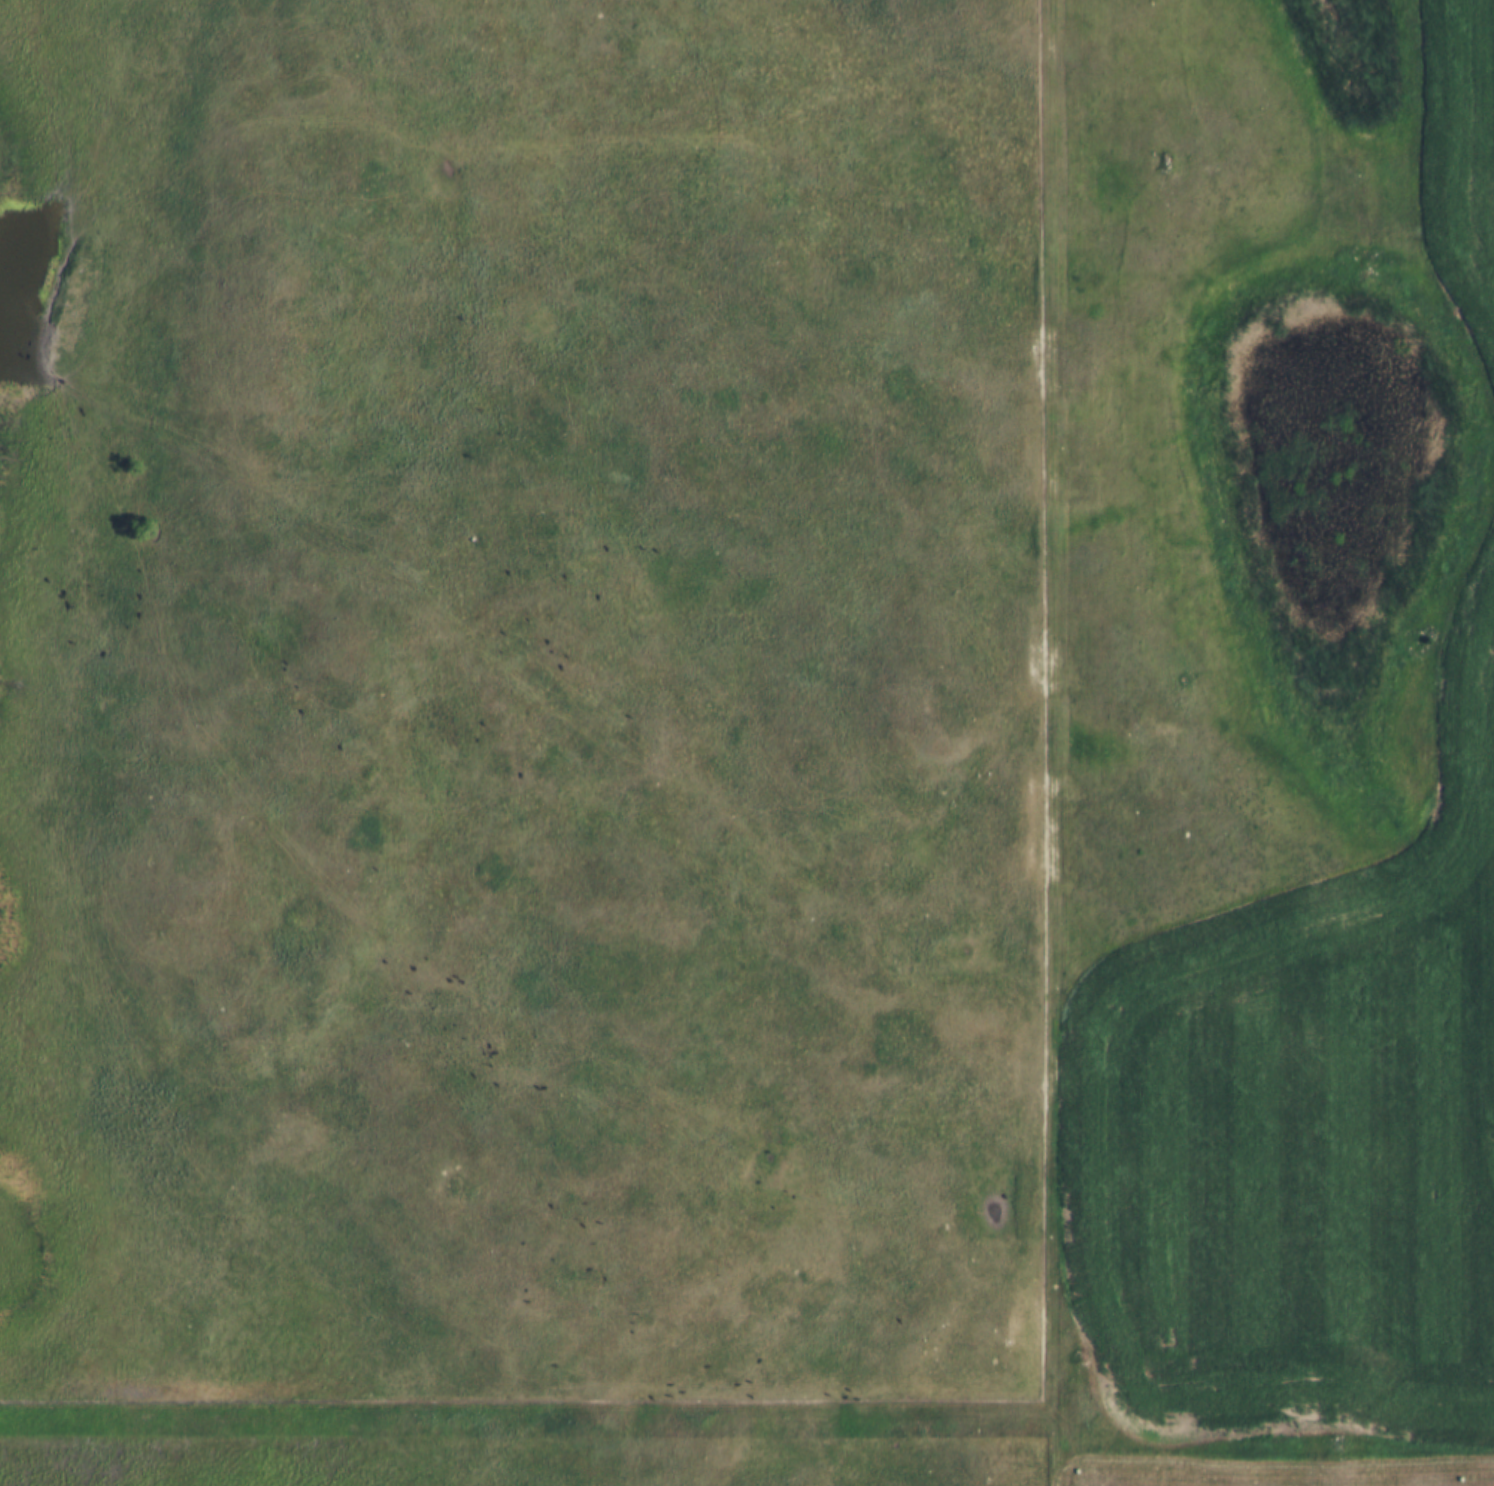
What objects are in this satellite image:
road: (1049, 743)

